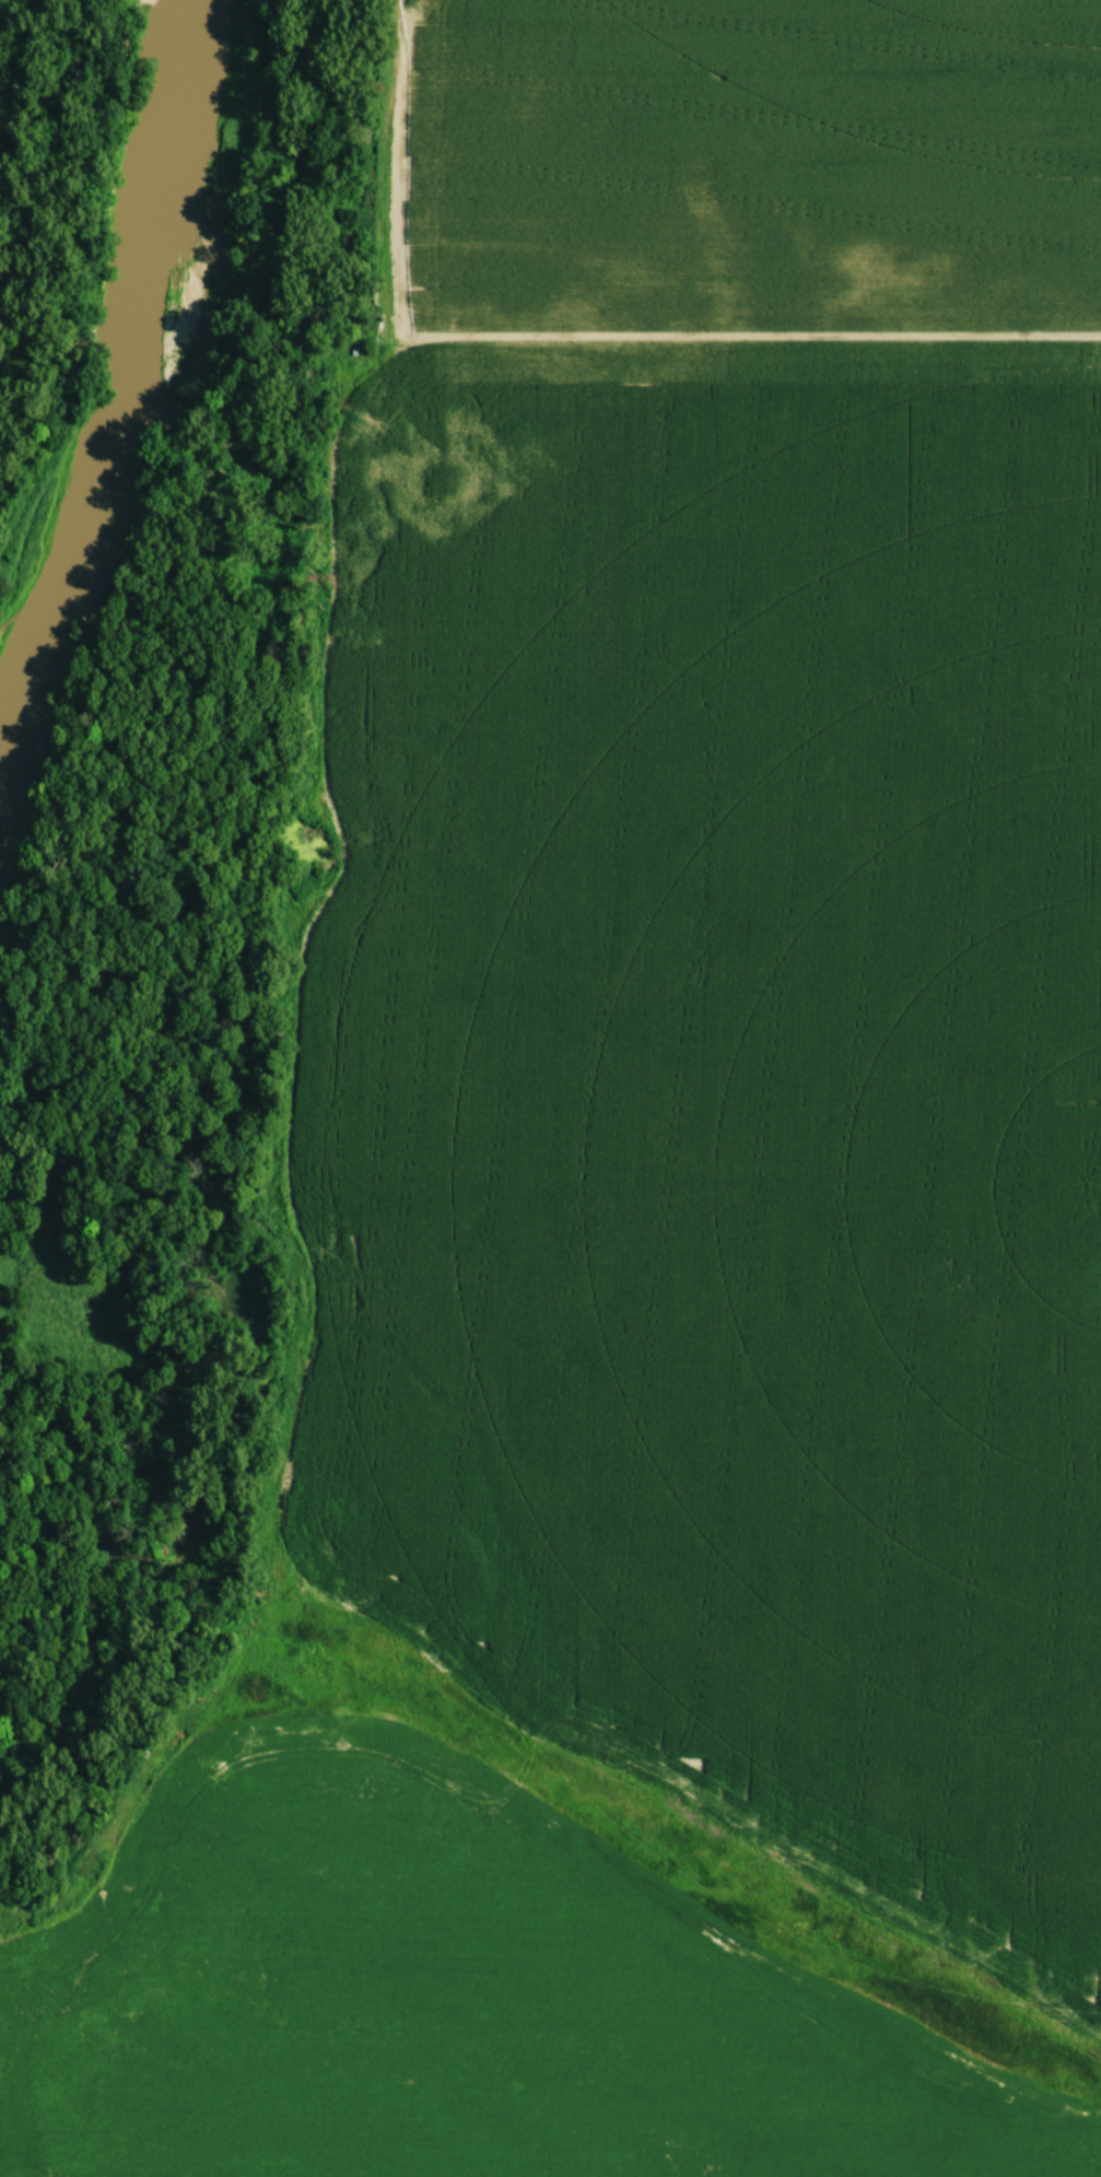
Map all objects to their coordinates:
river: (104, 434)

